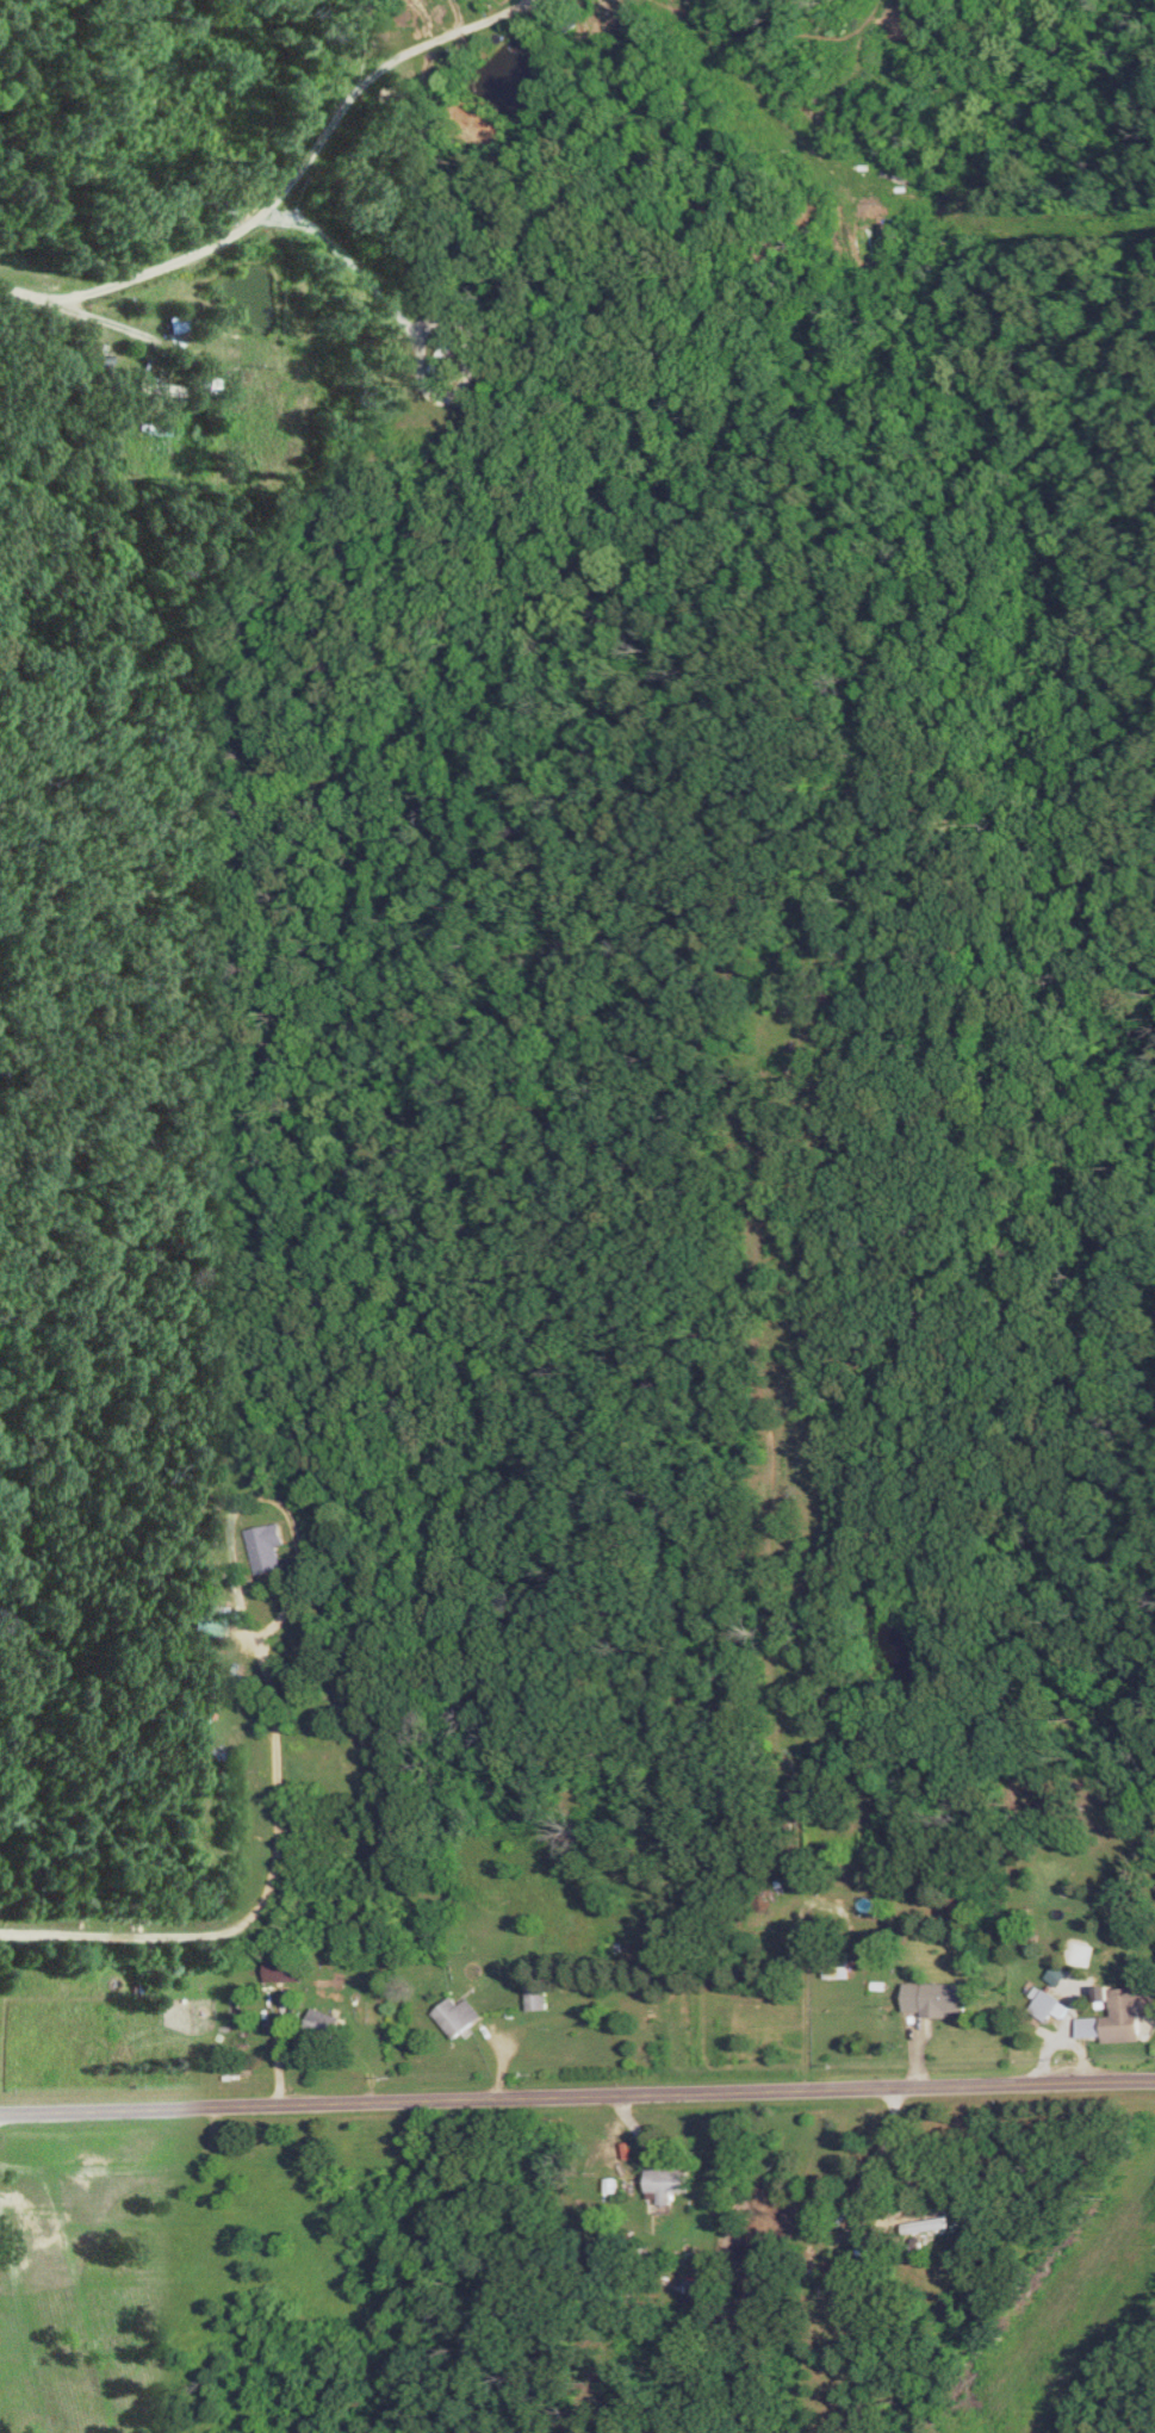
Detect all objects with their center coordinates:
road: (285, 186)
building: (179, 322)
building: (155, 386)
road: (267, 1496)
building: (268, 1550)
building: (204, 1626)
road: (262, 1907)
building: (287, 1970)
building: (542, 1998)
building: (940, 1999)
building: (1054, 2006)
building: (462, 2016)
building: (1120, 2017)
building: (329, 2025)
road: (577, 2096)
building: (670, 2186)
building: (942, 2226)

